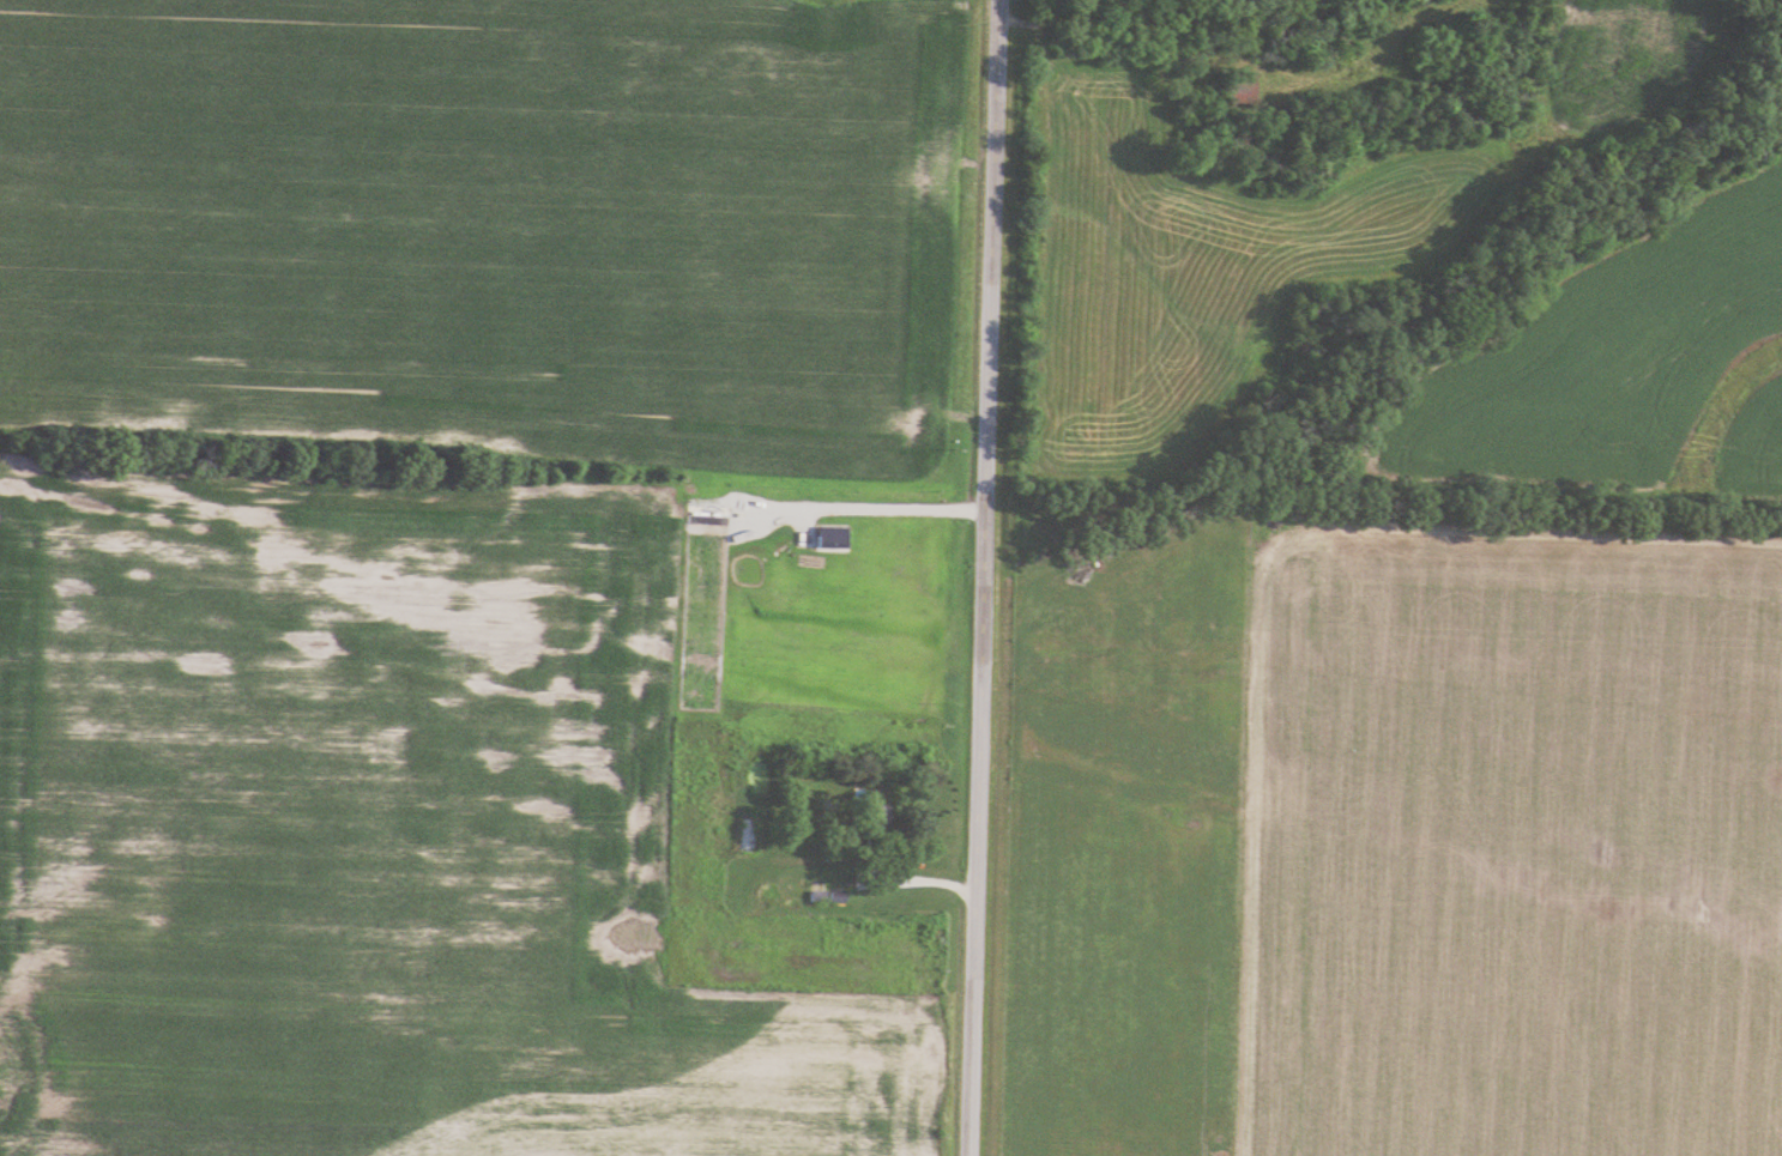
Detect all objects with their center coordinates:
road: (983, 577)
road: (910, 879)
building: (818, 896)
building: (838, 897)

